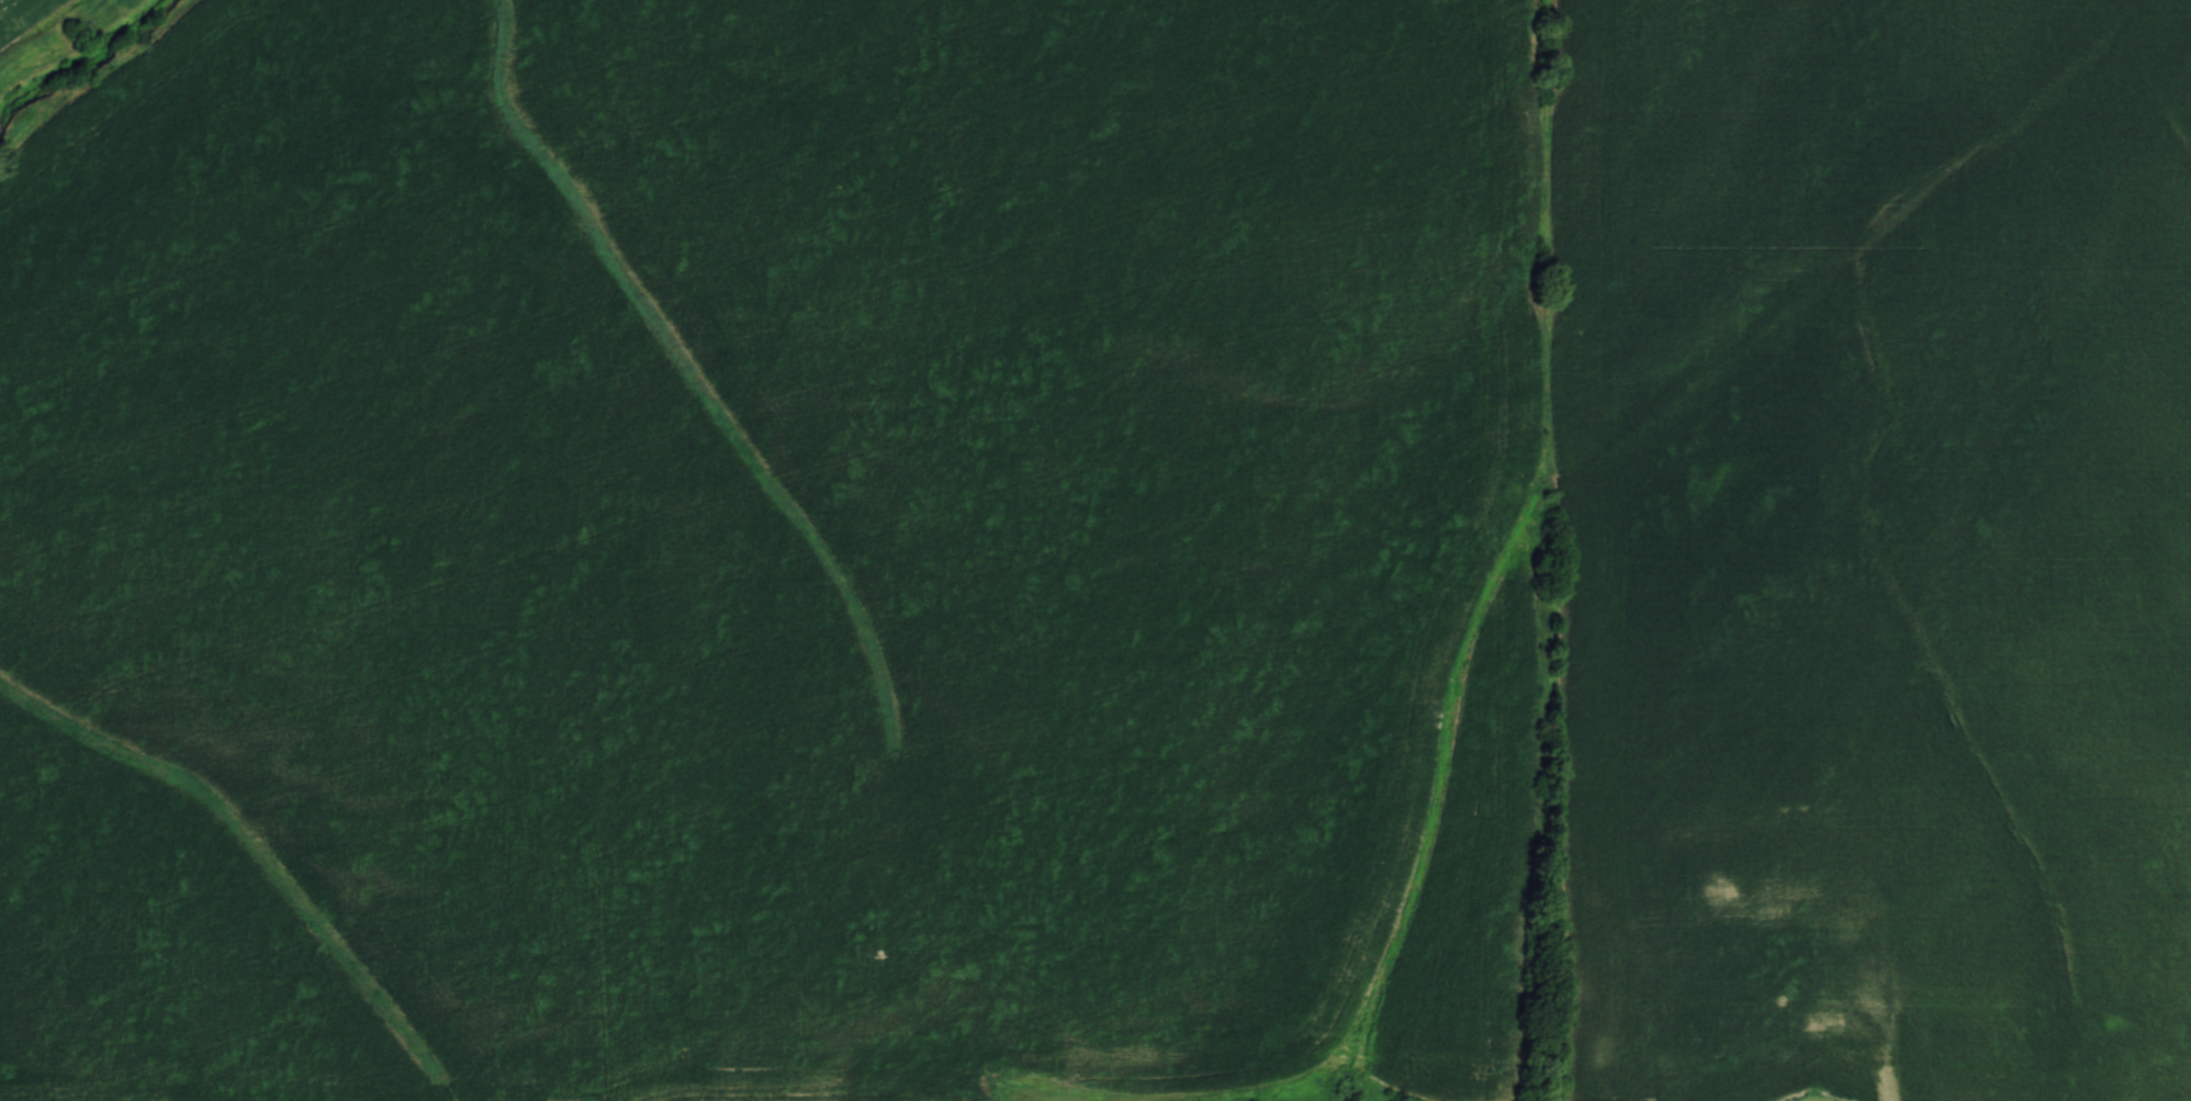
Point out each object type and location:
crop: (1887, 550)

